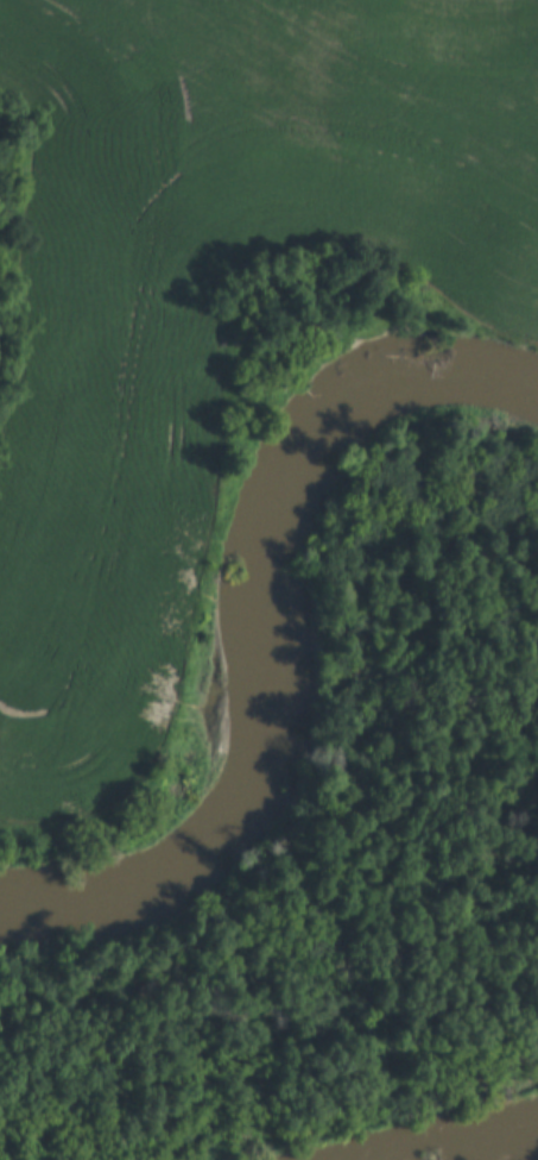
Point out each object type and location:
river: (264, 629)
river: (439, 1130)

